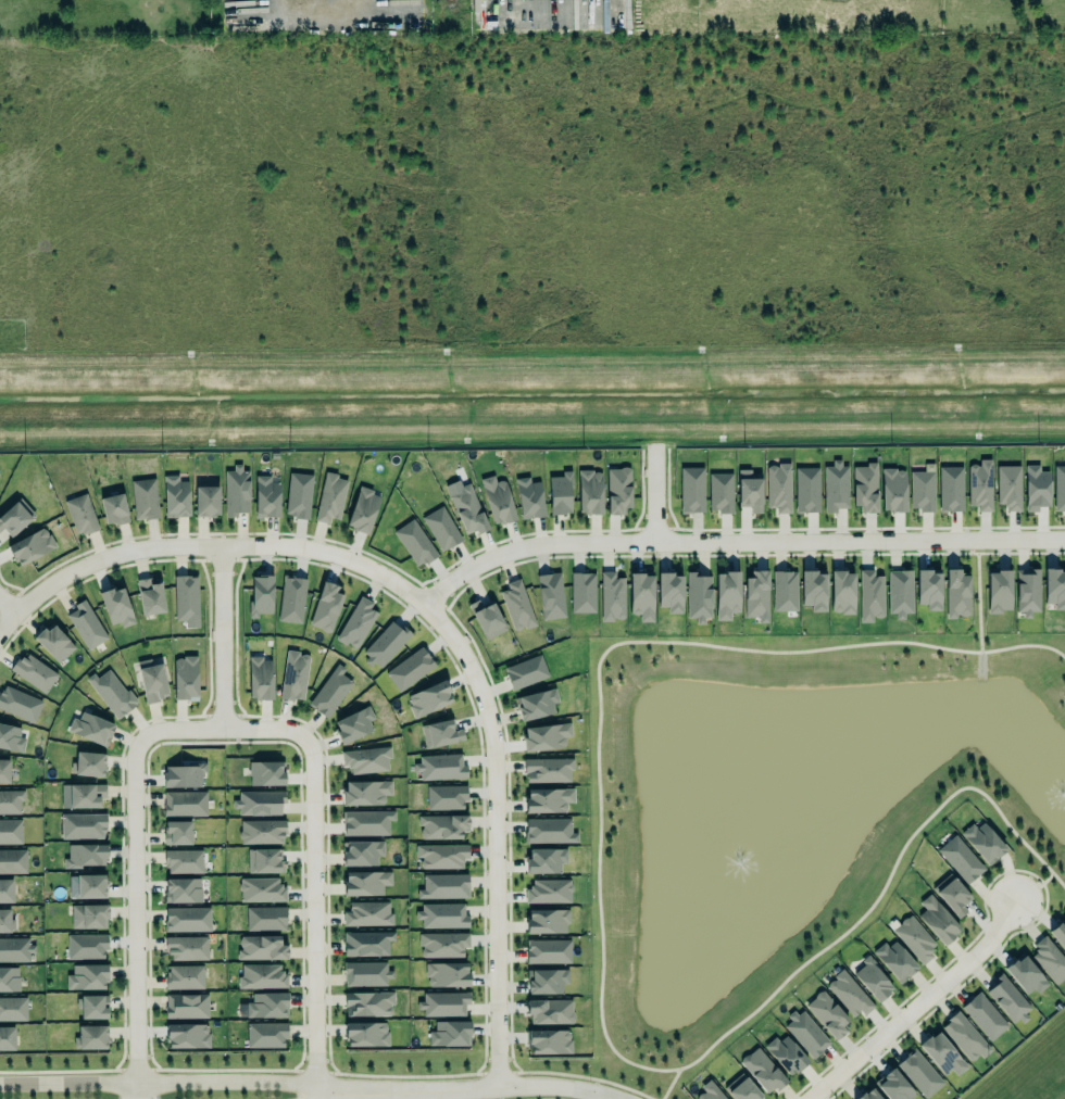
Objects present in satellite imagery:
road: (532, 382)
building: (980, 485)
building: (1007, 485)
building: (864, 487)
building: (893, 487)
building: (779, 488)
building: (806, 488)
building: (836, 488)
building: (617, 489)
building: (923, 489)
building: (951, 489)
building: (1036, 489)
building: (1058, 489)
building: (587, 490)
building: (691, 490)
building: (236, 492)
road: (653, 492)
building: (749, 492)
building: (721, 493)
building: (560, 494)
building: (298, 495)
building: (142, 497)
building: (175, 497)
building: (266, 497)
building: (330, 498)
building: (529, 498)
building: (498, 501)
building: (206, 502)
building: (361, 508)
building: (114, 509)
building: (467, 510)
building: (82, 515)
building: (15, 517)
building: (441, 529)
building: (413, 541)
road: (735, 541)
building: (29, 544)
building: (813, 588)
building: (1054, 588)
building: (784, 589)
building: (928, 590)
building: (956, 591)
building: (640, 592)
building: (999, 592)
building: (1027, 592)
building: (582, 593)
building: (671, 593)
building: (842, 593)
building: (900, 593)
building: (868, 594)
building: (261, 595)
building: (727, 595)
building: (551, 596)
building: (756, 596)
building: (150, 597)
building: (612, 597)
building: (699, 597)
building: (186, 599)
building: (291, 599)
road: (8, 606)
building: (116, 607)
building: (517, 607)
building: (326, 608)
building: (485, 617)
road: (8, 622)
building: (356, 623)
building: (86, 626)
road: (444, 627)
road: (222, 637)
building: (52, 641)
building: (385, 645)
building: (410, 669)
building: (34, 672)
building: (526, 672)
building: (258, 677)
building: (295, 677)
building: (185, 678)
building: (152, 681)
building: (330, 692)
building: (112, 693)
building: (429, 699)
building: (18, 704)
building: (536, 705)
building: (352, 723)
building: (91, 729)
building: (439, 731)
building: (546, 737)
building: (11, 738)
building: (365, 759)
building: (88, 765)
building: (440, 767)
building: (547, 768)
building: (3, 769)
building: (266, 773)
building: (183, 776)
fountain: (1052, 791)
building: (365, 793)
building: (84, 794)
building: (444, 795)
building: (548, 800)
building: (11, 801)
building: (183, 801)
building: (260, 803)
building: (366, 823)
building: (80, 824)
building: (440, 824)
building: (10, 830)
building: (260, 830)
building: (549, 831)
building: (177, 833)
fountain: (742, 843)
building: (982, 843)
building: (362, 852)
building: (84, 854)
building: (441, 855)
building: (960, 858)
building: (263, 859)
building: (546, 860)
building: (13, 861)
building: (184, 862)
road: (313, 873)
road: (135, 876)
building: (366, 883)
building: (89, 884)
building: (444, 887)
building: (5, 890)
building: (183, 890)
building: (261, 890)
building: (549, 892)
building: (952, 895)
building: (368, 914)
building: (264, 915)
building: (442, 915)
building: (88, 917)
building: (185, 918)
building: (937, 920)
building: (5, 921)
building: (547, 922)
building: (1058, 934)
building: (914, 939)
building: (365, 942)
building: (443, 945)
building: (185, 946)
building: (87, 947)
building: (14, 948)
building: (261, 948)
building: (547, 949)
building: (1049, 960)
building: (894, 961)
building: (365, 972)
building: (261, 975)
building: (447, 975)
building: (1025, 975)
building: (183, 976)
building: (873, 976)
building: (87, 977)
building: (9, 980)
building: (544, 980)
building: (847, 993)
building: (1007, 1000)
building: (185, 1005)
building: (368, 1005)
building: (443, 1005)
road: (917, 1005)
building: (92, 1007)
building: (264, 1007)
building: (13, 1009)
building: (550, 1011)
building: (827, 1014)
building: (983, 1016)
building: (186, 1033)
building: (264, 1033)
building: (364, 1033)
building: (450, 1034)
building: (806, 1034)
building: (965, 1037)
building: (7, 1038)
building: (90, 1038)
building: (547, 1040)
building: (940, 1052)
building: (786, 1056)
building: (762, 1071)
building: (919, 1074)
road: (159, 1081)
building: (893, 1086)
road: (467, 1088)
building: (741, 1088)
building: (710, 1090)
building: (866, 1095)
road: (312, 1097)

